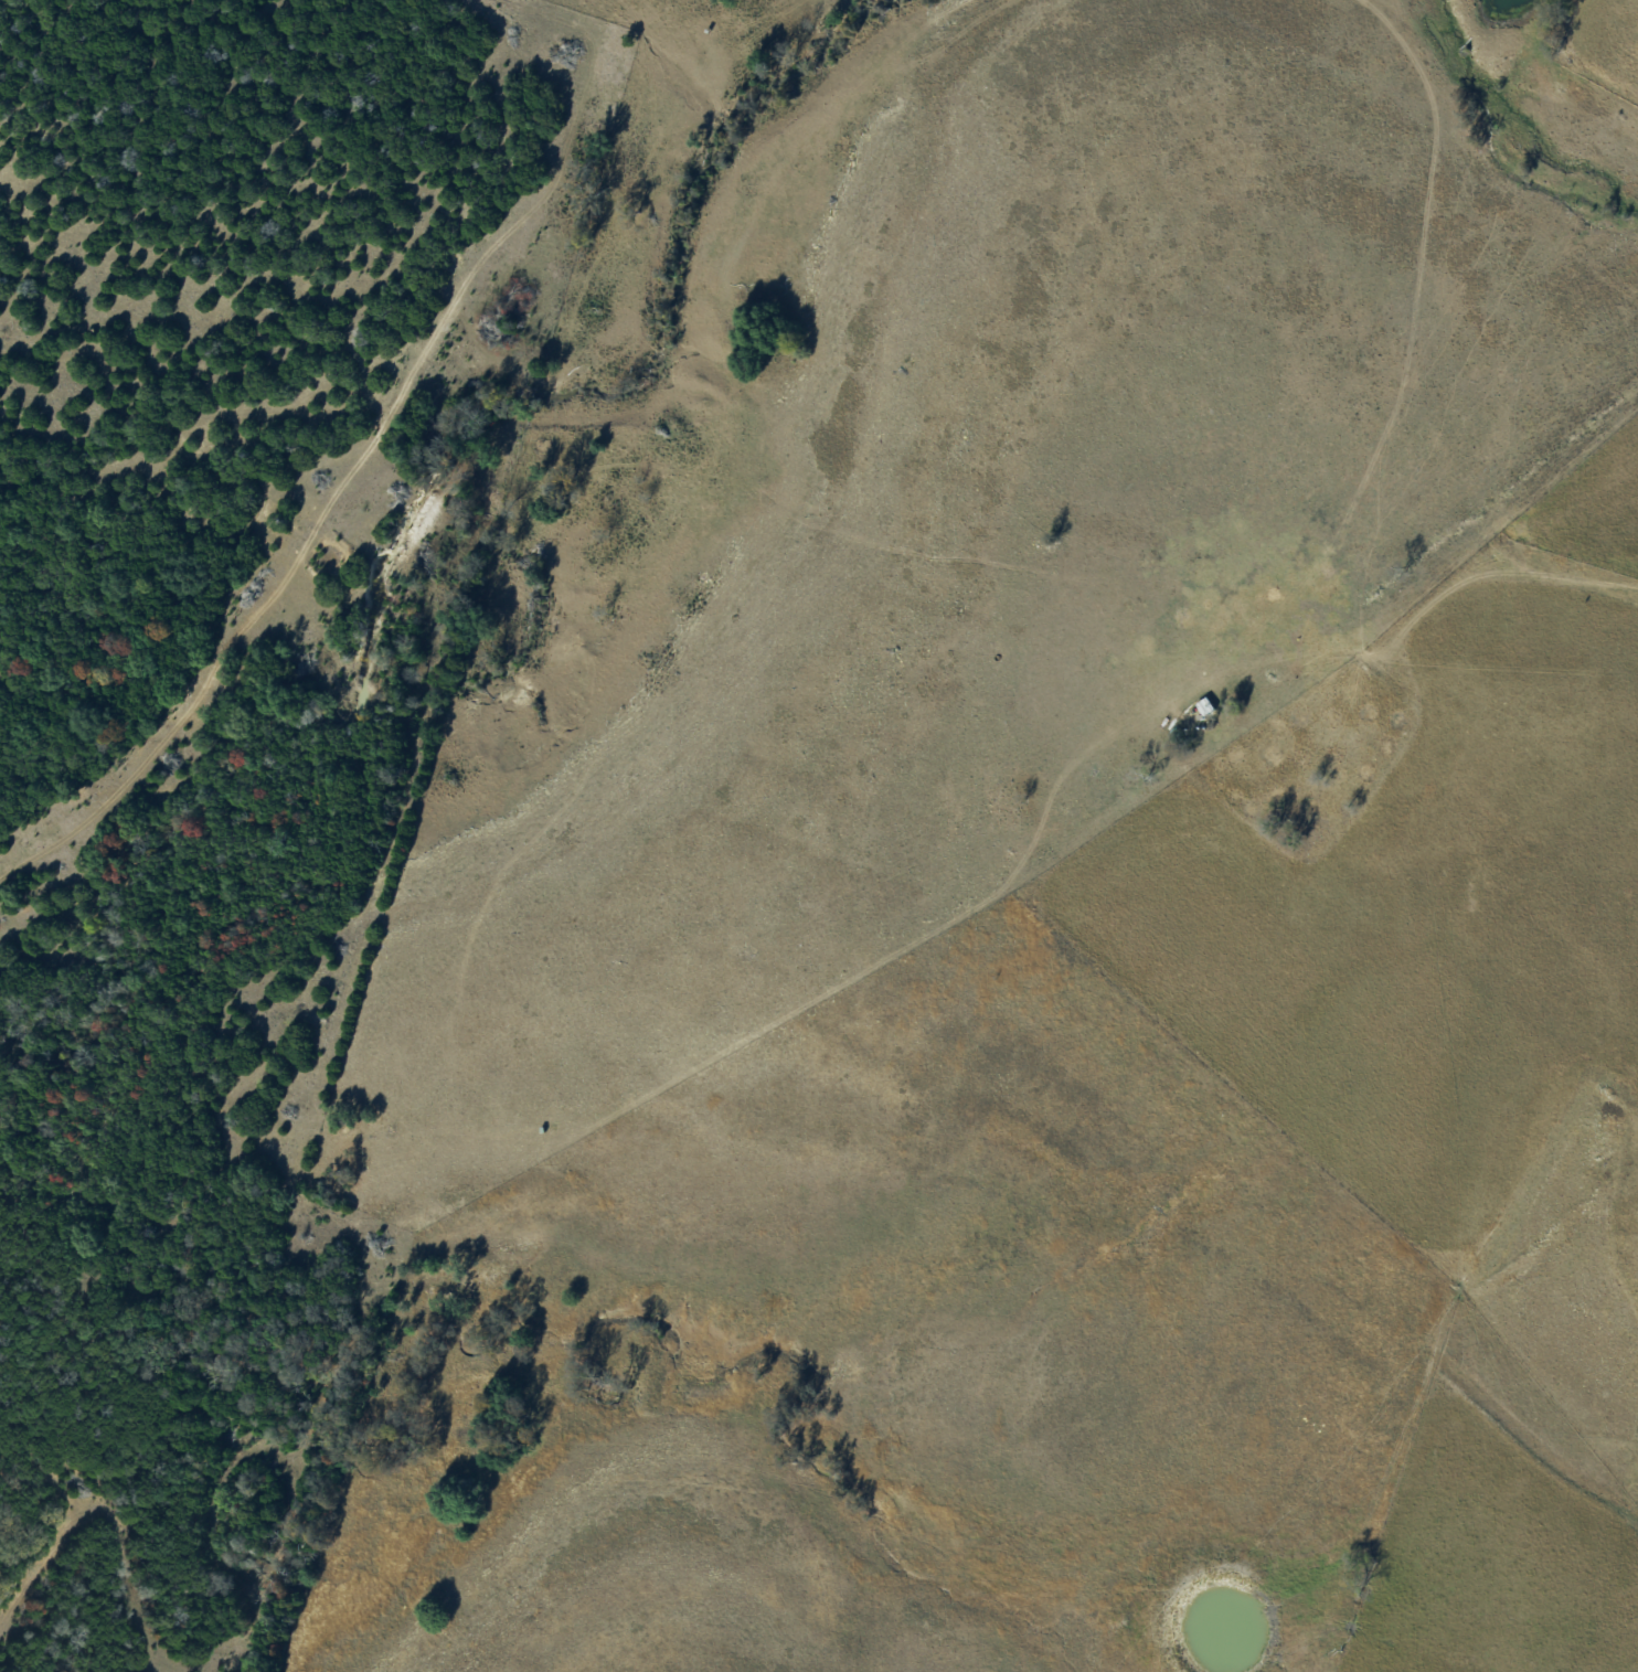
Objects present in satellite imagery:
building: (1204, 706)
building: (1273, 745)

